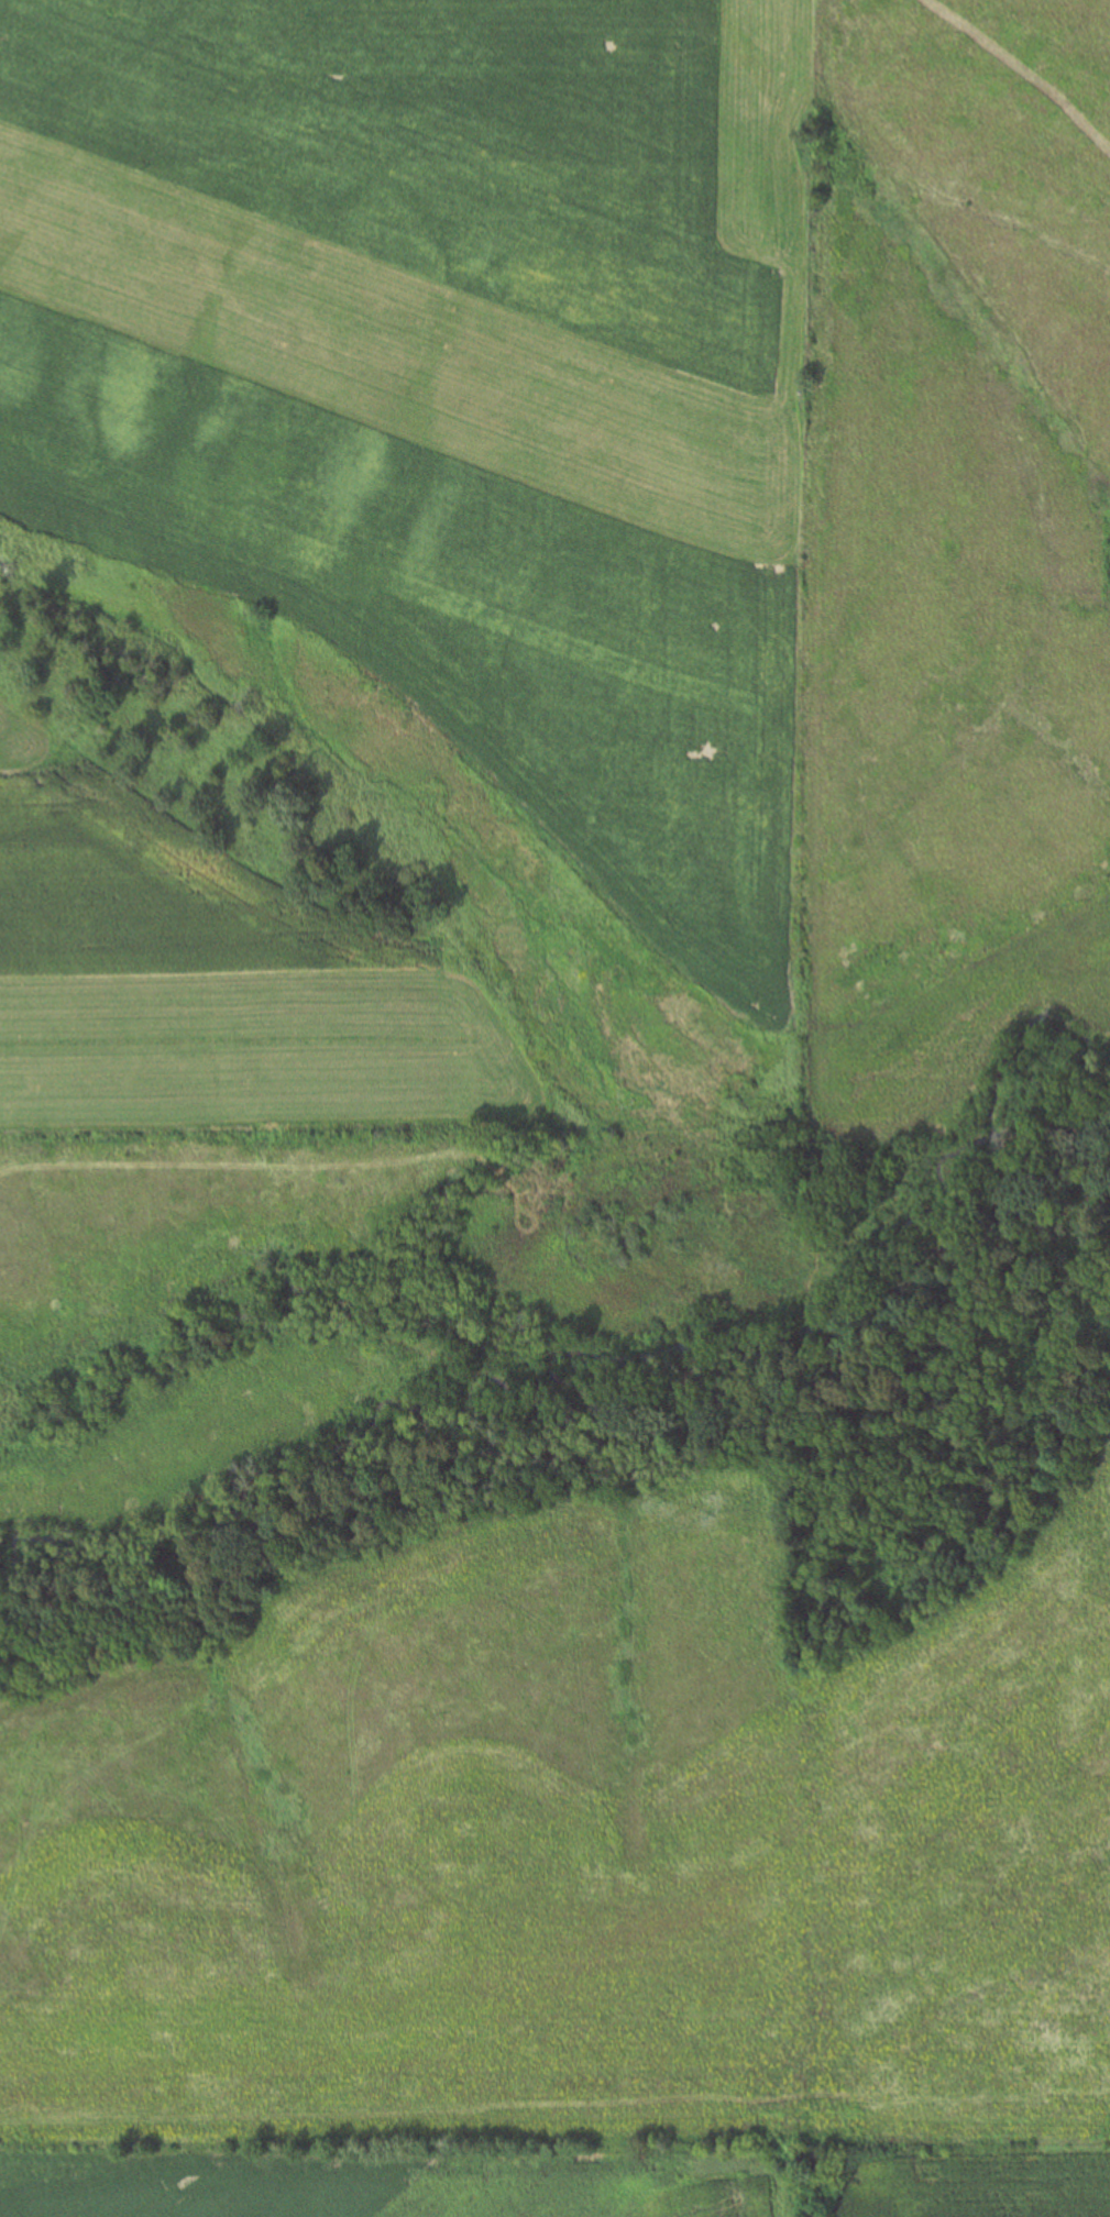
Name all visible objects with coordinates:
road: (392, 2183)

